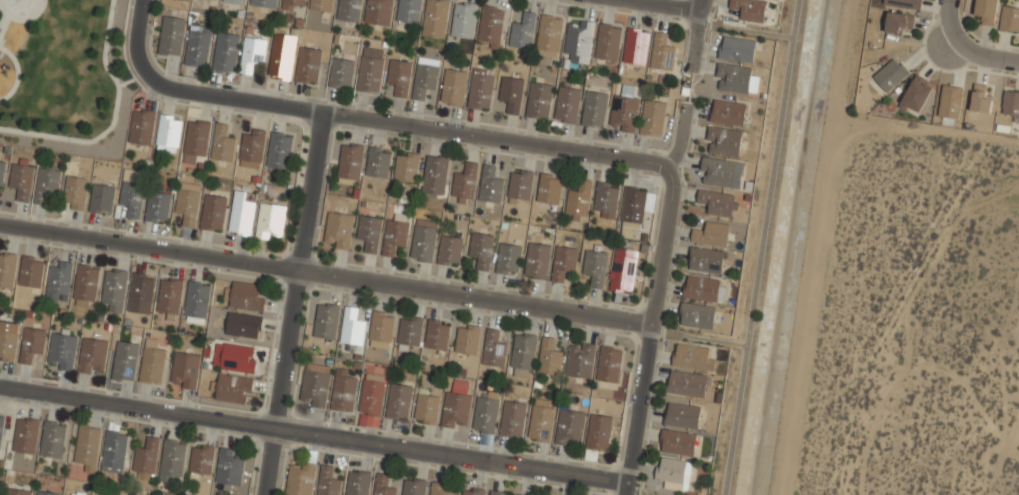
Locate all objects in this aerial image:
building: (186, 0)
building: (236, 1)
road: (138, 3)
building: (263, 3)
building: (902, 3)
road: (669, 4)
building: (293, 5)
building: (320, 5)
park: (21, 9)
building: (750, 9)
building: (349, 10)
building: (409, 11)
building: (986, 11)
building: (378, 12)
building: (435, 18)
building: (464, 19)
building: (1009, 19)
building: (899, 23)
road: (947, 23)
building: (491, 25)
road: (745, 30)
building: (523, 31)
building: (549, 35)
road: (695, 35)
building: (171, 36)
building: (579, 40)
building: (608, 41)
building: (636, 46)
building: (198, 47)
building: (737, 48)
building: (226, 52)
building: (662, 52)
building: (252, 54)
road: (981, 54)
building: (281, 60)
building: (308, 64)
building: (341, 73)
building: (370, 74)
building: (399, 75)
building: (890, 75)
building: (425, 76)
park: (64, 77)
building: (735, 79)
building: (453, 86)
road: (692, 87)
building: (481, 88)
building: (511, 92)
building: (917, 94)
building: (981, 99)
building: (538, 100)
building: (950, 101)
building: (1010, 102)
building: (567, 104)
building: (594, 108)
building: (624, 110)
building: (728, 111)
building: (653, 117)
road: (370, 120)
building: (142, 127)
building: (168, 132)
building: (196, 139)
building: (723, 141)
building: (222, 143)
building: (252, 148)
building: (279, 150)
building: (378, 161)
building: (350, 163)
building: (407, 168)
building: (2, 172)
building: (720, 173)
building: (435, 175)
building: (21, 179)
building: (465, 182)
building: (47, 183)
building: (520, 183)
building: (490, 185)
building: (549, 189)
building: (76, 192)
building: (132, 196)
building: (102, 198)
building: (578, 200)
building: (605, 200)
building: (187, 202)
building: (716, 202)
building: (157, 206)
building: (632, 208)
building: (213, 212)
building: (241, 215)
building: (270, 221)
building: (339, 229)
building: (369, 231)
building: (711, 234)
building: (394, 235)
building: (424, 239)
road: (760, 247)
building: (450, 249)
building: (482, 249)
building: (508, 258)
building: (706, 259)
building: (537, 260)
building: (563, 261)
building: (595, 266)
building: (623, 268)
building: (7, 269)
building: (31, 271)
road: (325, 272)
building: (58, 278)
building: (86, 284)
building: (142, 287)
building: (701, 287)
building: (114, 289)
building: (170, 295)
building: (248, 296)
building: (197, 298)
road: (653, 298)
road: (294, 303)
building: (696, 315)
building: (327, 320)
building: (244, 325)
building: (352, 327)
building: (381, 329)
building: (410, 331)
building: (437, 333)
building: (467, 338)
road: (697, 338)
building: (8, 340)
building: (31, 343)
building: (493, 348)
building: (62, 349)
building: (523, 355)
building: (692, 355)
building: (93, 356)
building: (549, 356)
building: (238, 358)
building: (580, 360)
building: (125, 361)
building: (152, 362)
building: (609, 363)
building: (184, 370)
building: (686, 383)
building: (233, 387)
building: (314, 388)
building: (343, 389)
building: (372, 397)
building: (399, 400)
building: (456, 407)
building: (426, 408)
building: (485, 412)
building: (682, 415)
building: (513, 418)
building: (541, 420)
building: (569, 426)
building: (1, 428)
road: (313, 433)
building: (598, 433)
building: (26, 435)
building: (53, 439)
building: (677, 442)
building: (87, 447)
building: (115, 450)
building: (202, 460)
building: (145, 461)
building: (173, 461)
building: (231, 466)
building: (673, 472)
building: (300, 478)
building: (328, 482)
building: (358, 482)
building: (383, 485)
building: (414, 486)
building: (442, 488)
building: (473, 490)
building: (17, 491)
building: (46, 492)
building: (499, 492)
building: (70, 494)
building: (521, 494)

